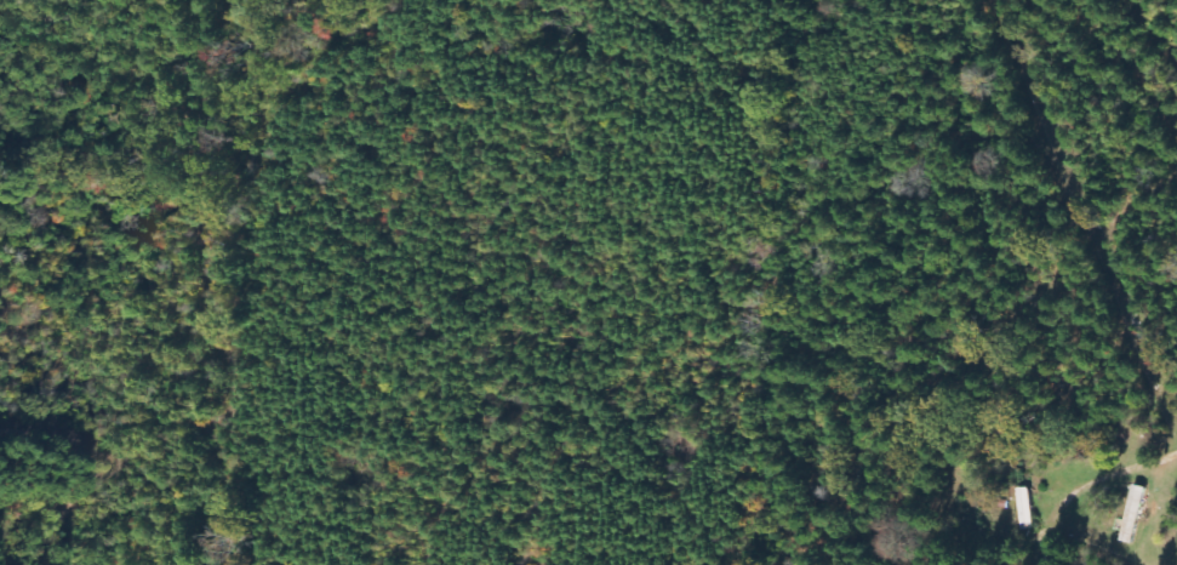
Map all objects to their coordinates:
building: (1133, 515)

